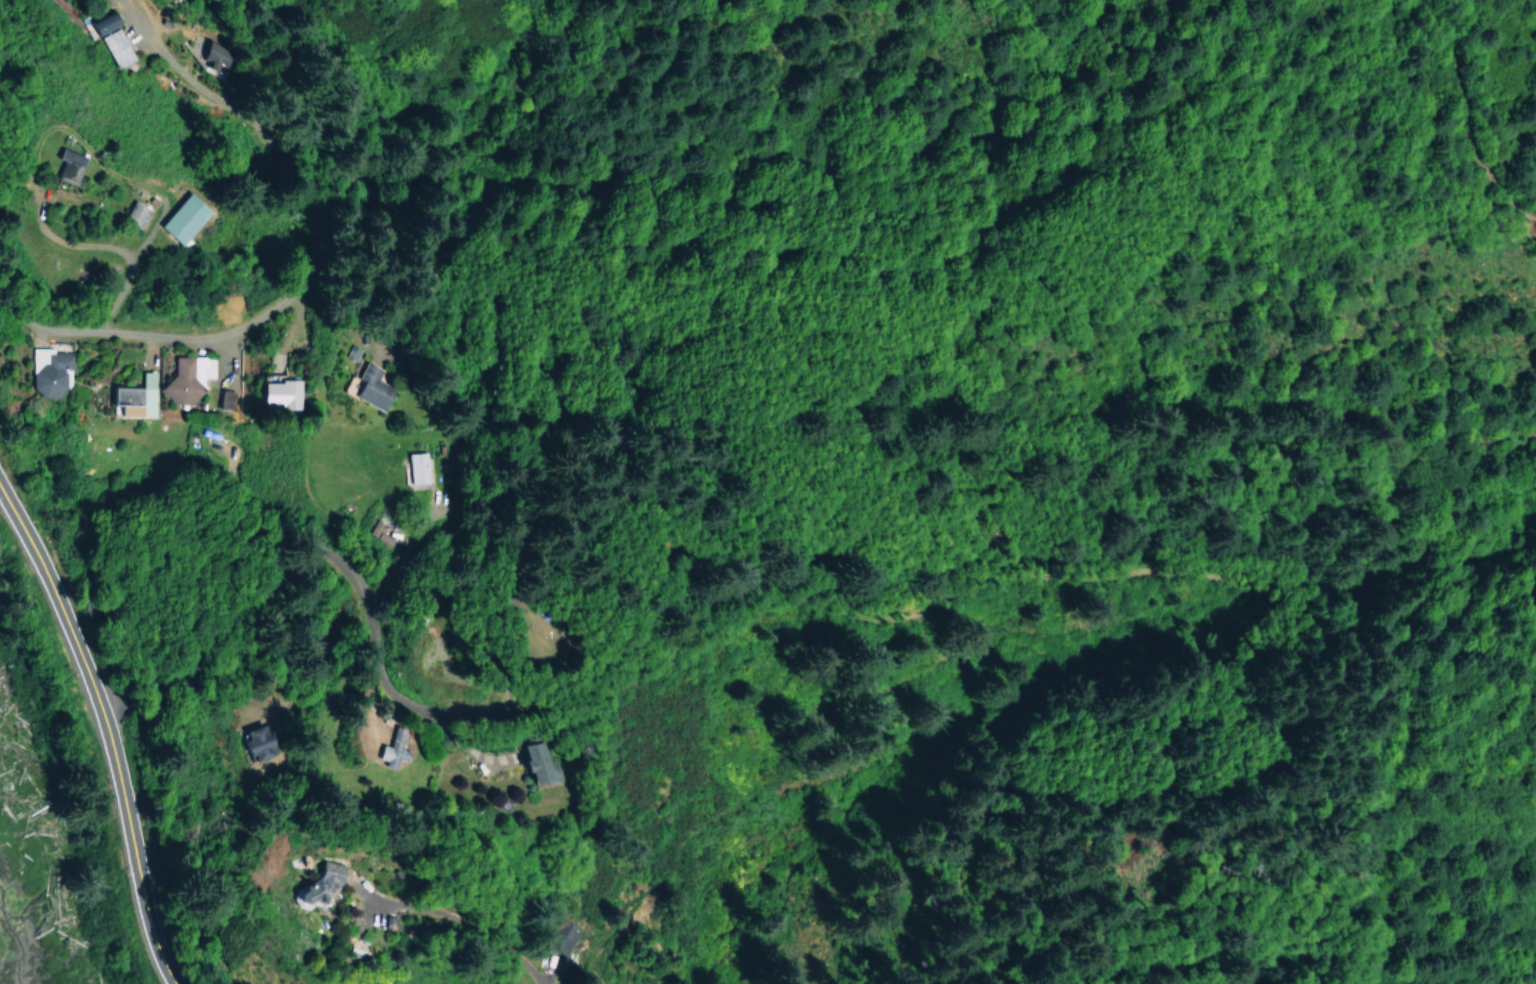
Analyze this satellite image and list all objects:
building: (114, 47)
building: (68, 164)
building: (135, 213)
building: (184, 217)
road: (298, 287)
building: (50, 372)
building: (187, 376)
building: (369, 388)
building: (279, 392)
building: (135, 396)
building: (225, 396)
building: (416, 467)
road: (308, 537)
road: (949, 599)
road: (111, 726)
building: (255, 743)
building: (393, 747)
building: (541, 762)
building: (318, 885)
building: (564, 935)

